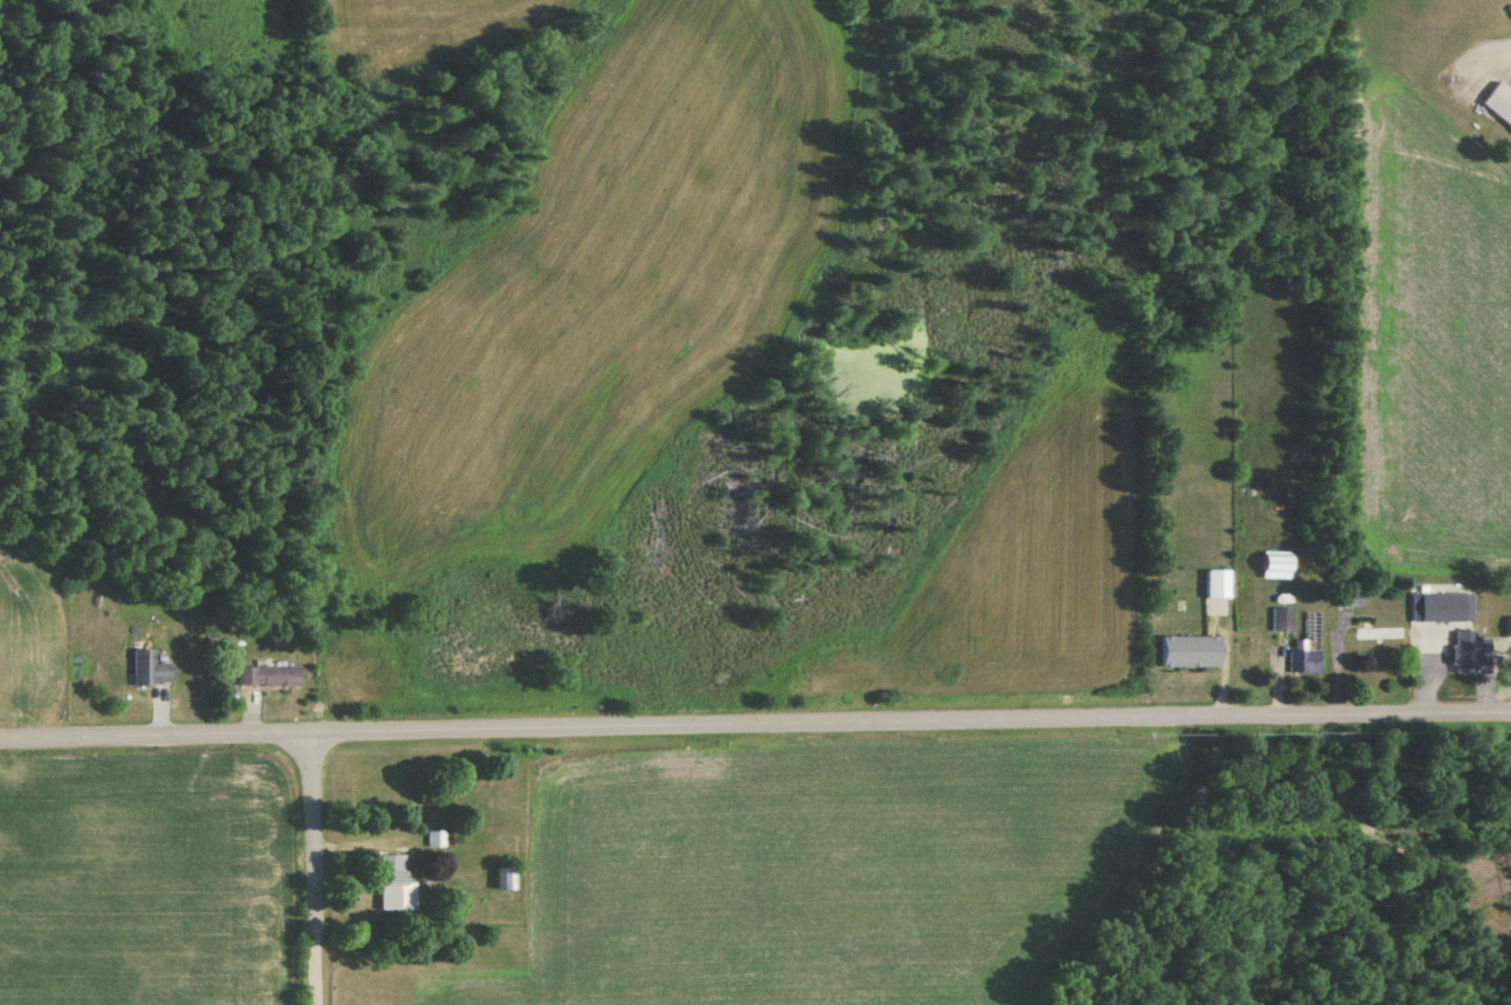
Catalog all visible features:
building: (1498, 104)
road: (1181, 396)
building: (1216, 585)
building: (1347, 597)
building: (1440, 608)
building: (1280, 621)
building: (1509, 628)
building: (1378, 635)
building: (1188, 652)
building: (1462, 653)
building: (1303, 663)
building: (147, 670)
building: (266, 678)
road: (755, 723)
building: (435, 840)
road: (317, 868)
building: (507, 882)
building: (391, 886)

